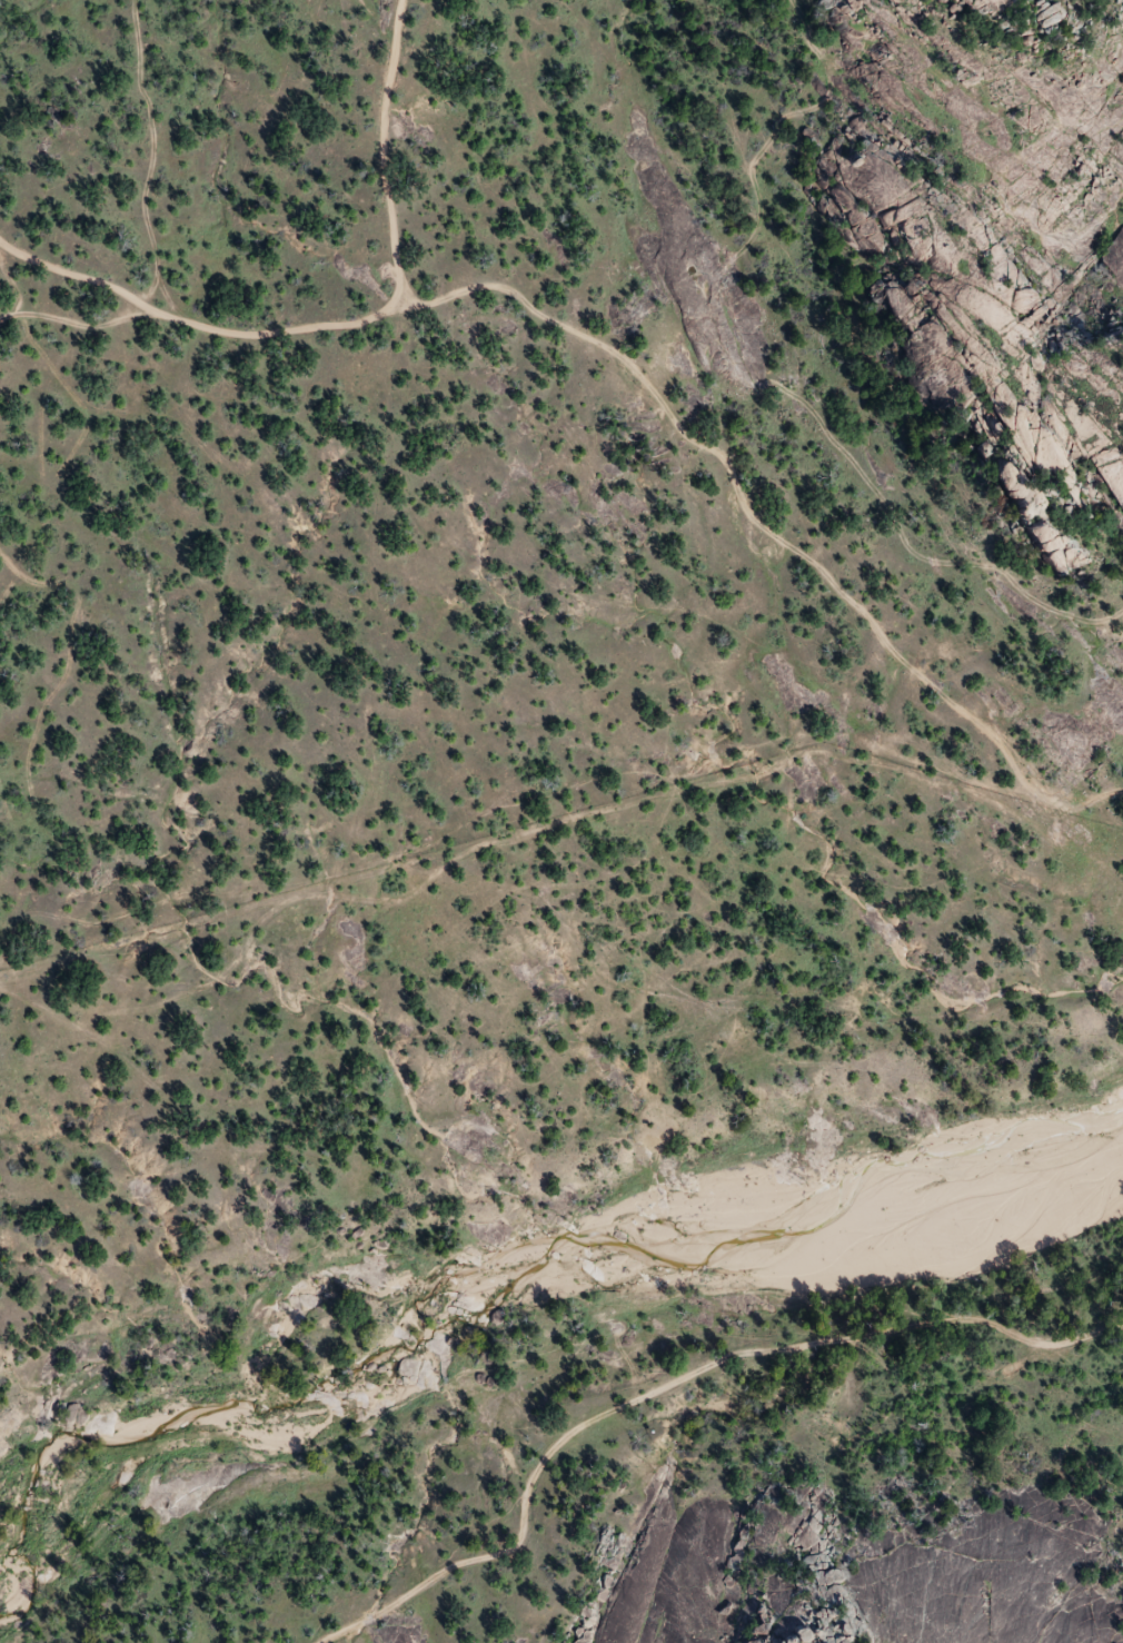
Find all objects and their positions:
building: (1047, 18)
road: (345, 330)
building: (603, 1588)

